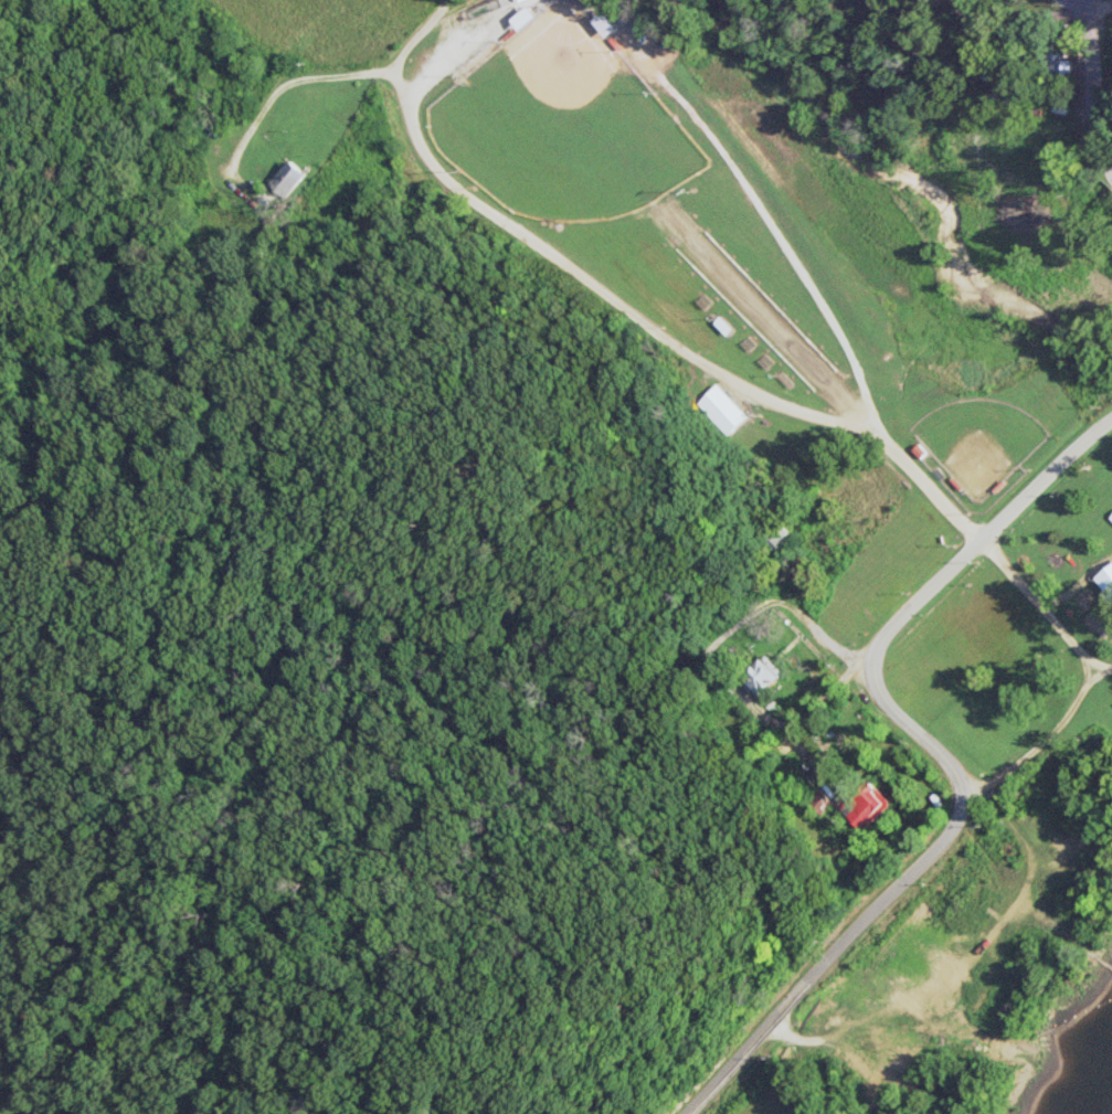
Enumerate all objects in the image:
road: (1074, 2)
road: (1007, 7)
building: (521, 15)
building: (604, 22)
building: (1057, 64)
road: (295, 76)
road: (1085, 92)
park: (560, 120)
building: (286, 176)
road: (627, 311)
building: (720, 325)
building: (718, 404)
park: (977, 443)
building: (1110, 516)
road: (824, 639)
road: (1101, 669)
building: (760, 673)
road: (1089, 675)
road: (939, 753)
building: (816, 800)
building: (859, 800)

